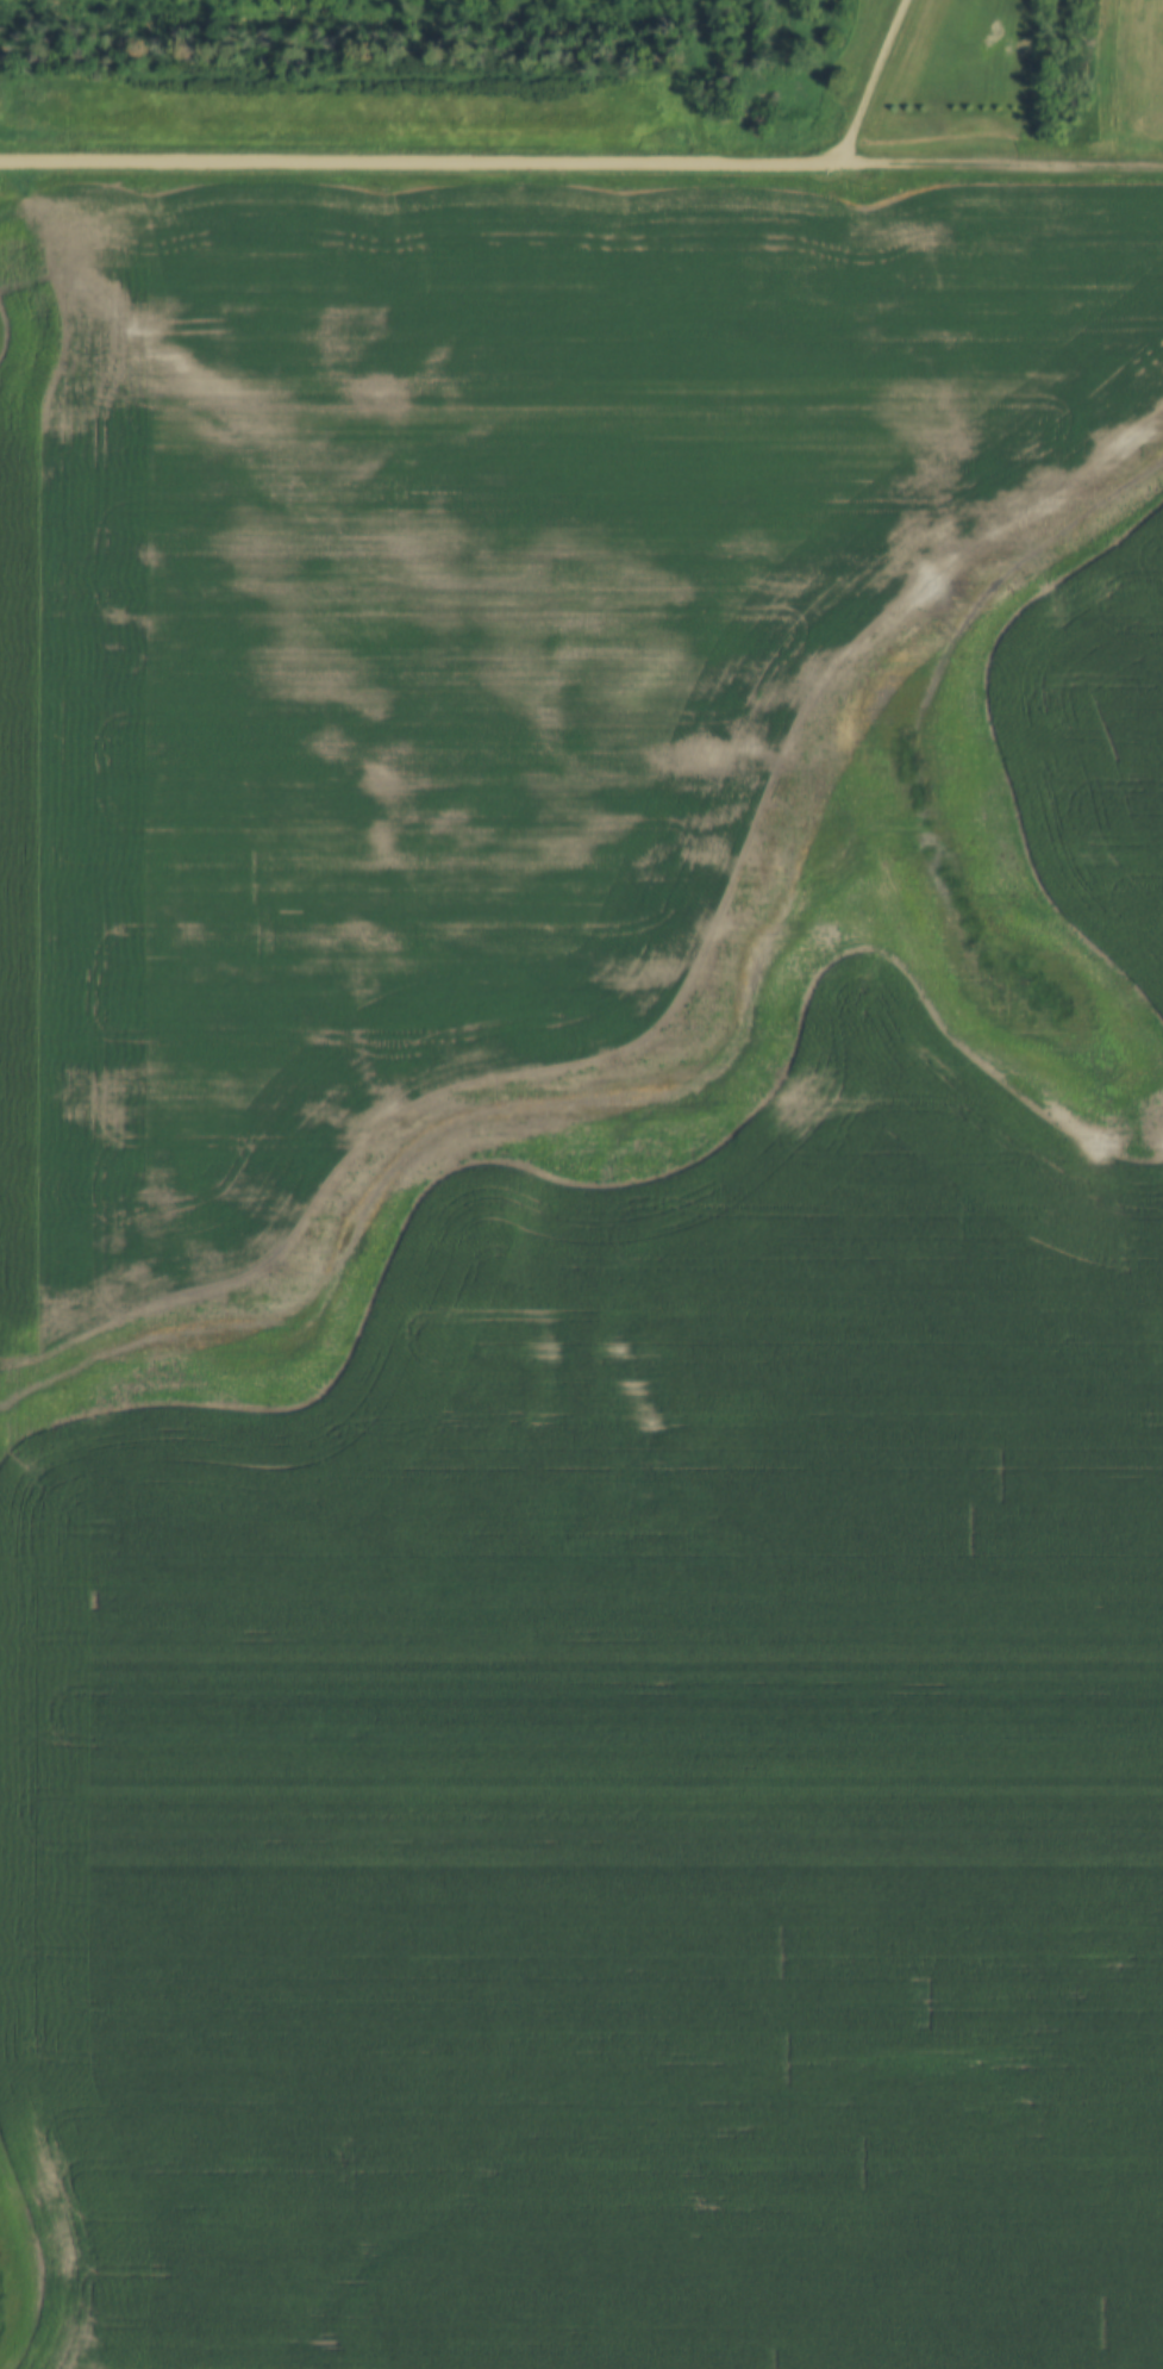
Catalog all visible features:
road: (875, 83)
road: (419, 166)
road: (1000, 167)

